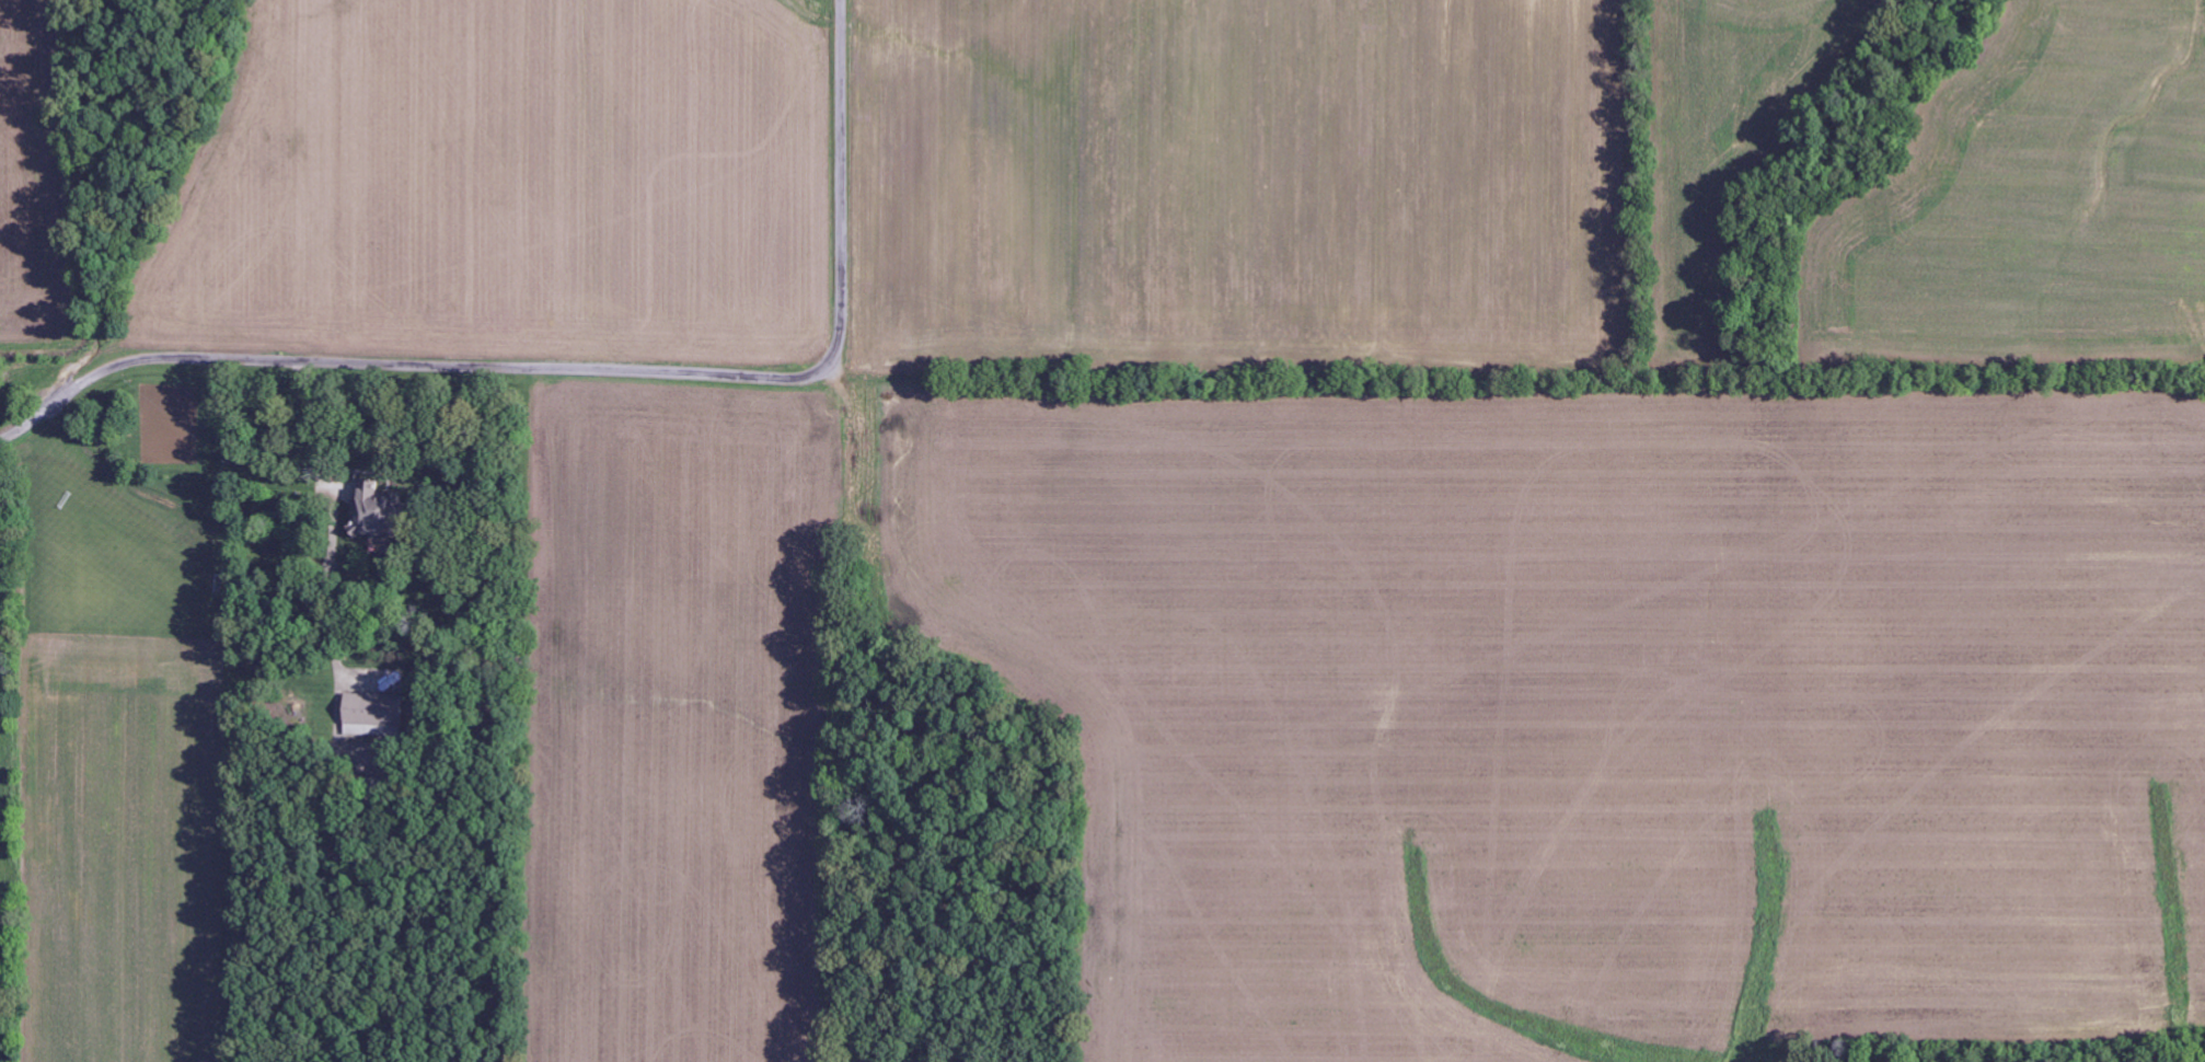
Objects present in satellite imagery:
road: (2168, 73)
road: (588, 370)
building: (374, 512)

